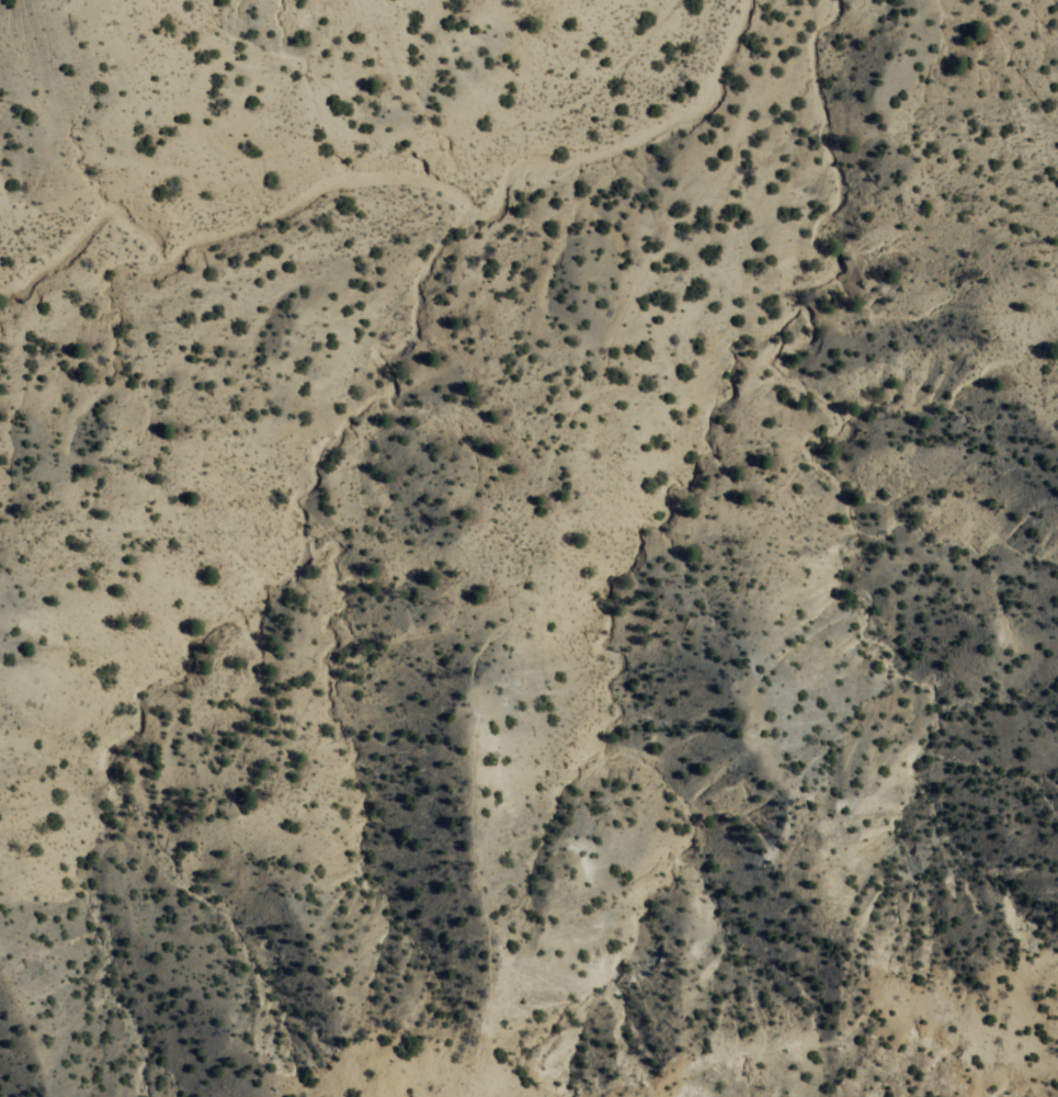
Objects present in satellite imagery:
road: (354, 135)

